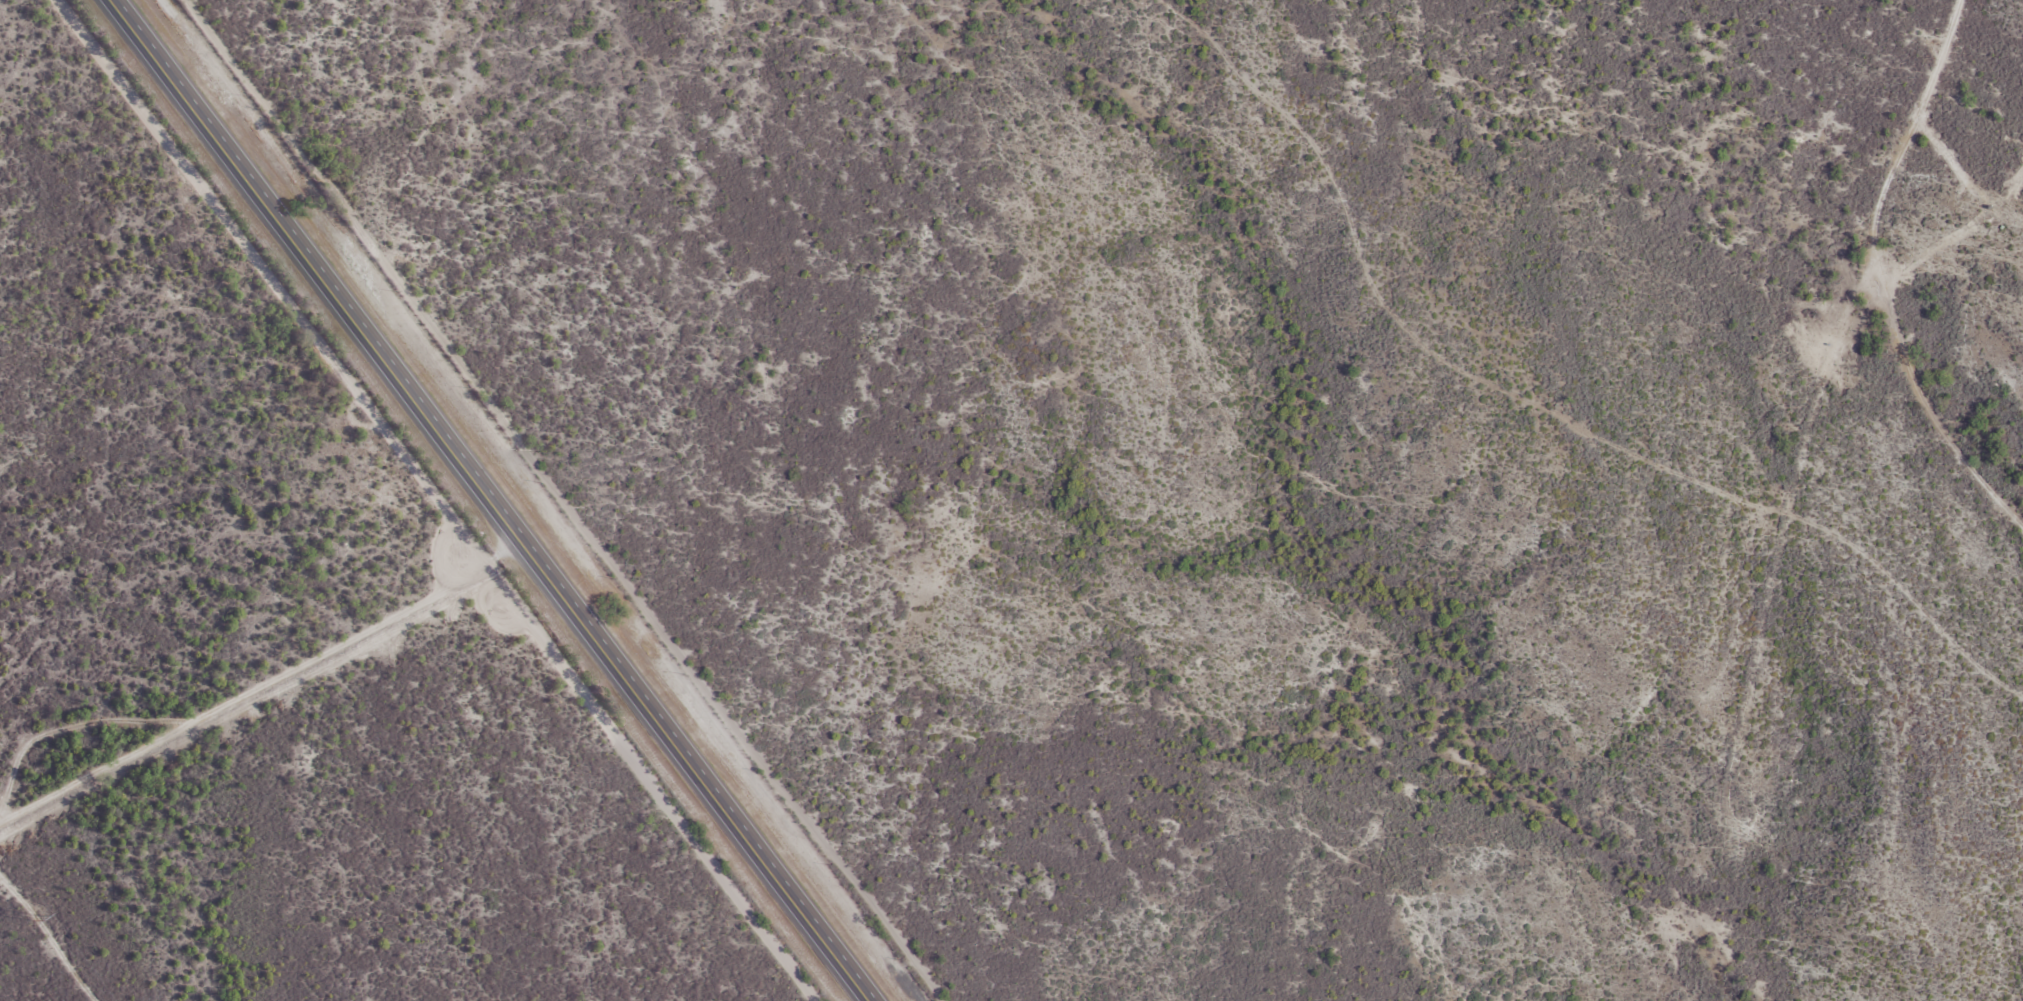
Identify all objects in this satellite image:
road: (1938, 73)
road: (1547, 400)
road: (492, 500)
power tower: (34, 920)

